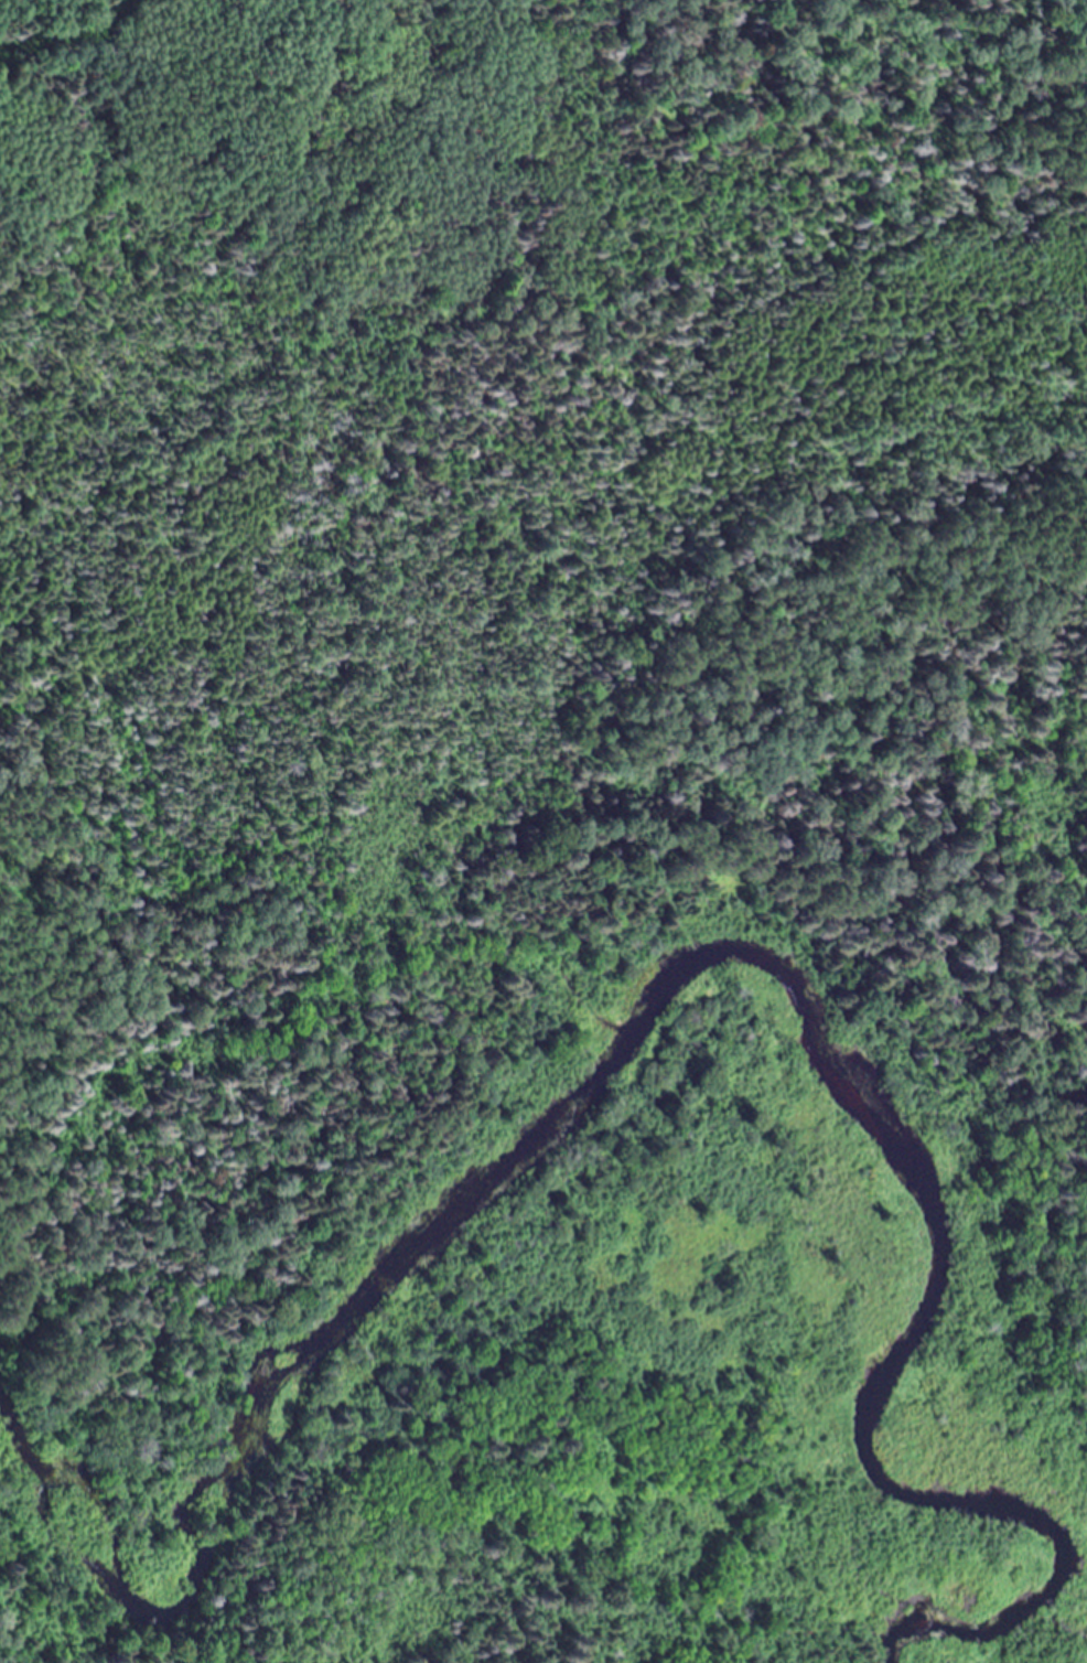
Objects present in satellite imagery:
road: (74, 35)
river: (667, 976)

